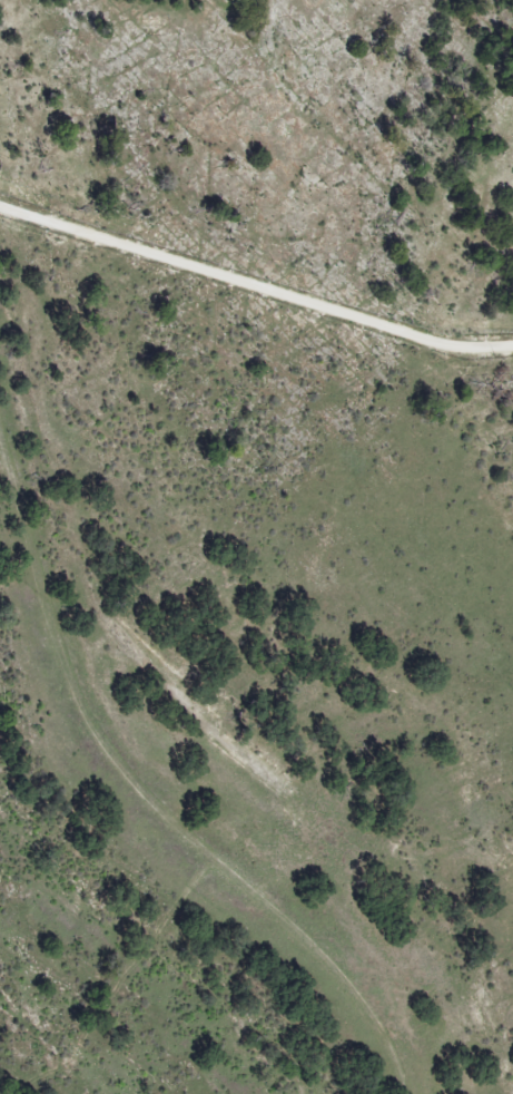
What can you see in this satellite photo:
road: (257, 262)

